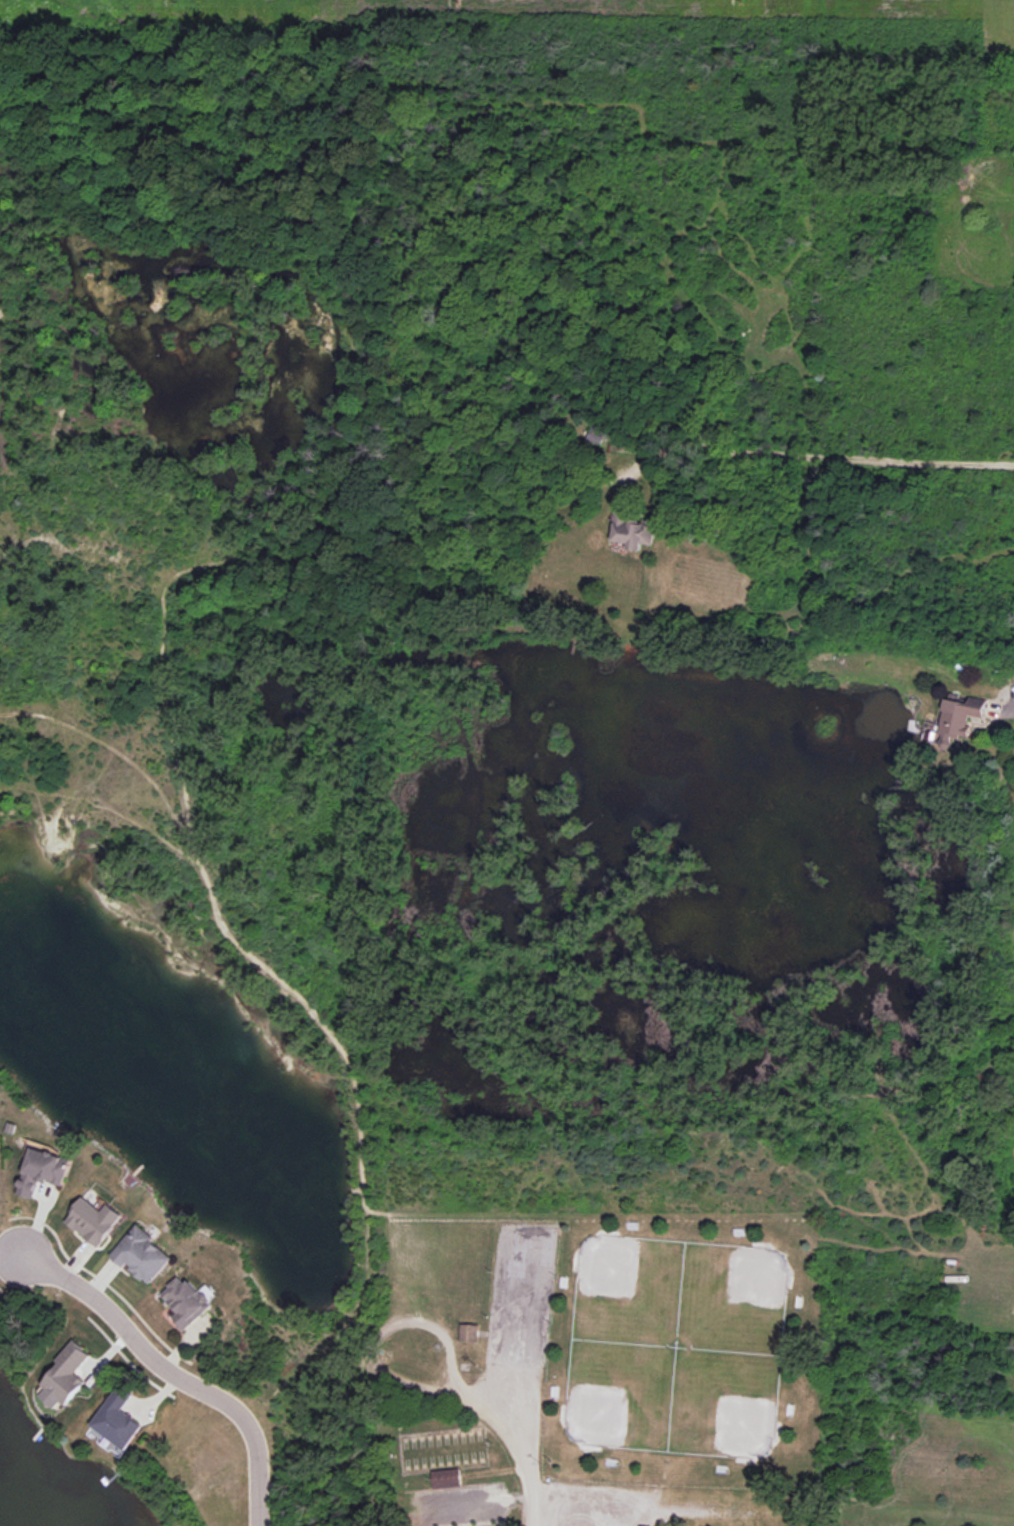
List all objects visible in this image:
road: (811, 463)
building: (631, 529)
building: (960, 715)
building: (43, 1171)
building: (94, 1220)
building: (142, 1254)
building: (187, 1301)
building: (469, 1332)
park: (596, 1367)
road: (172, 1373)
building: (65, 1375)
building: (117, 1419)
road: (524, 1447)
building: (446, 1478)

